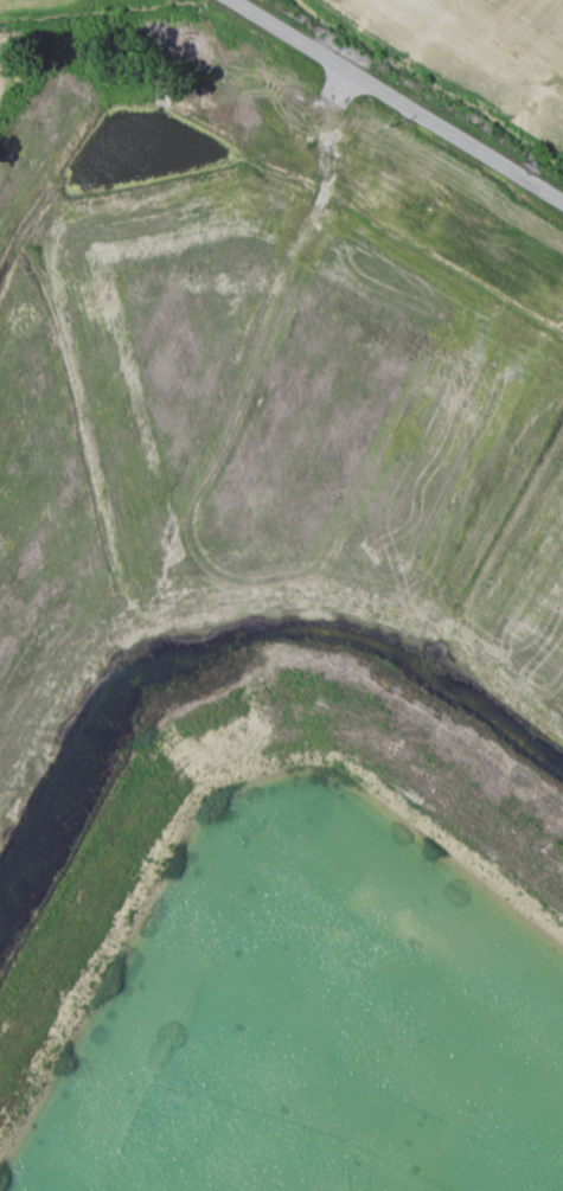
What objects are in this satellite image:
road: (395, 101)

